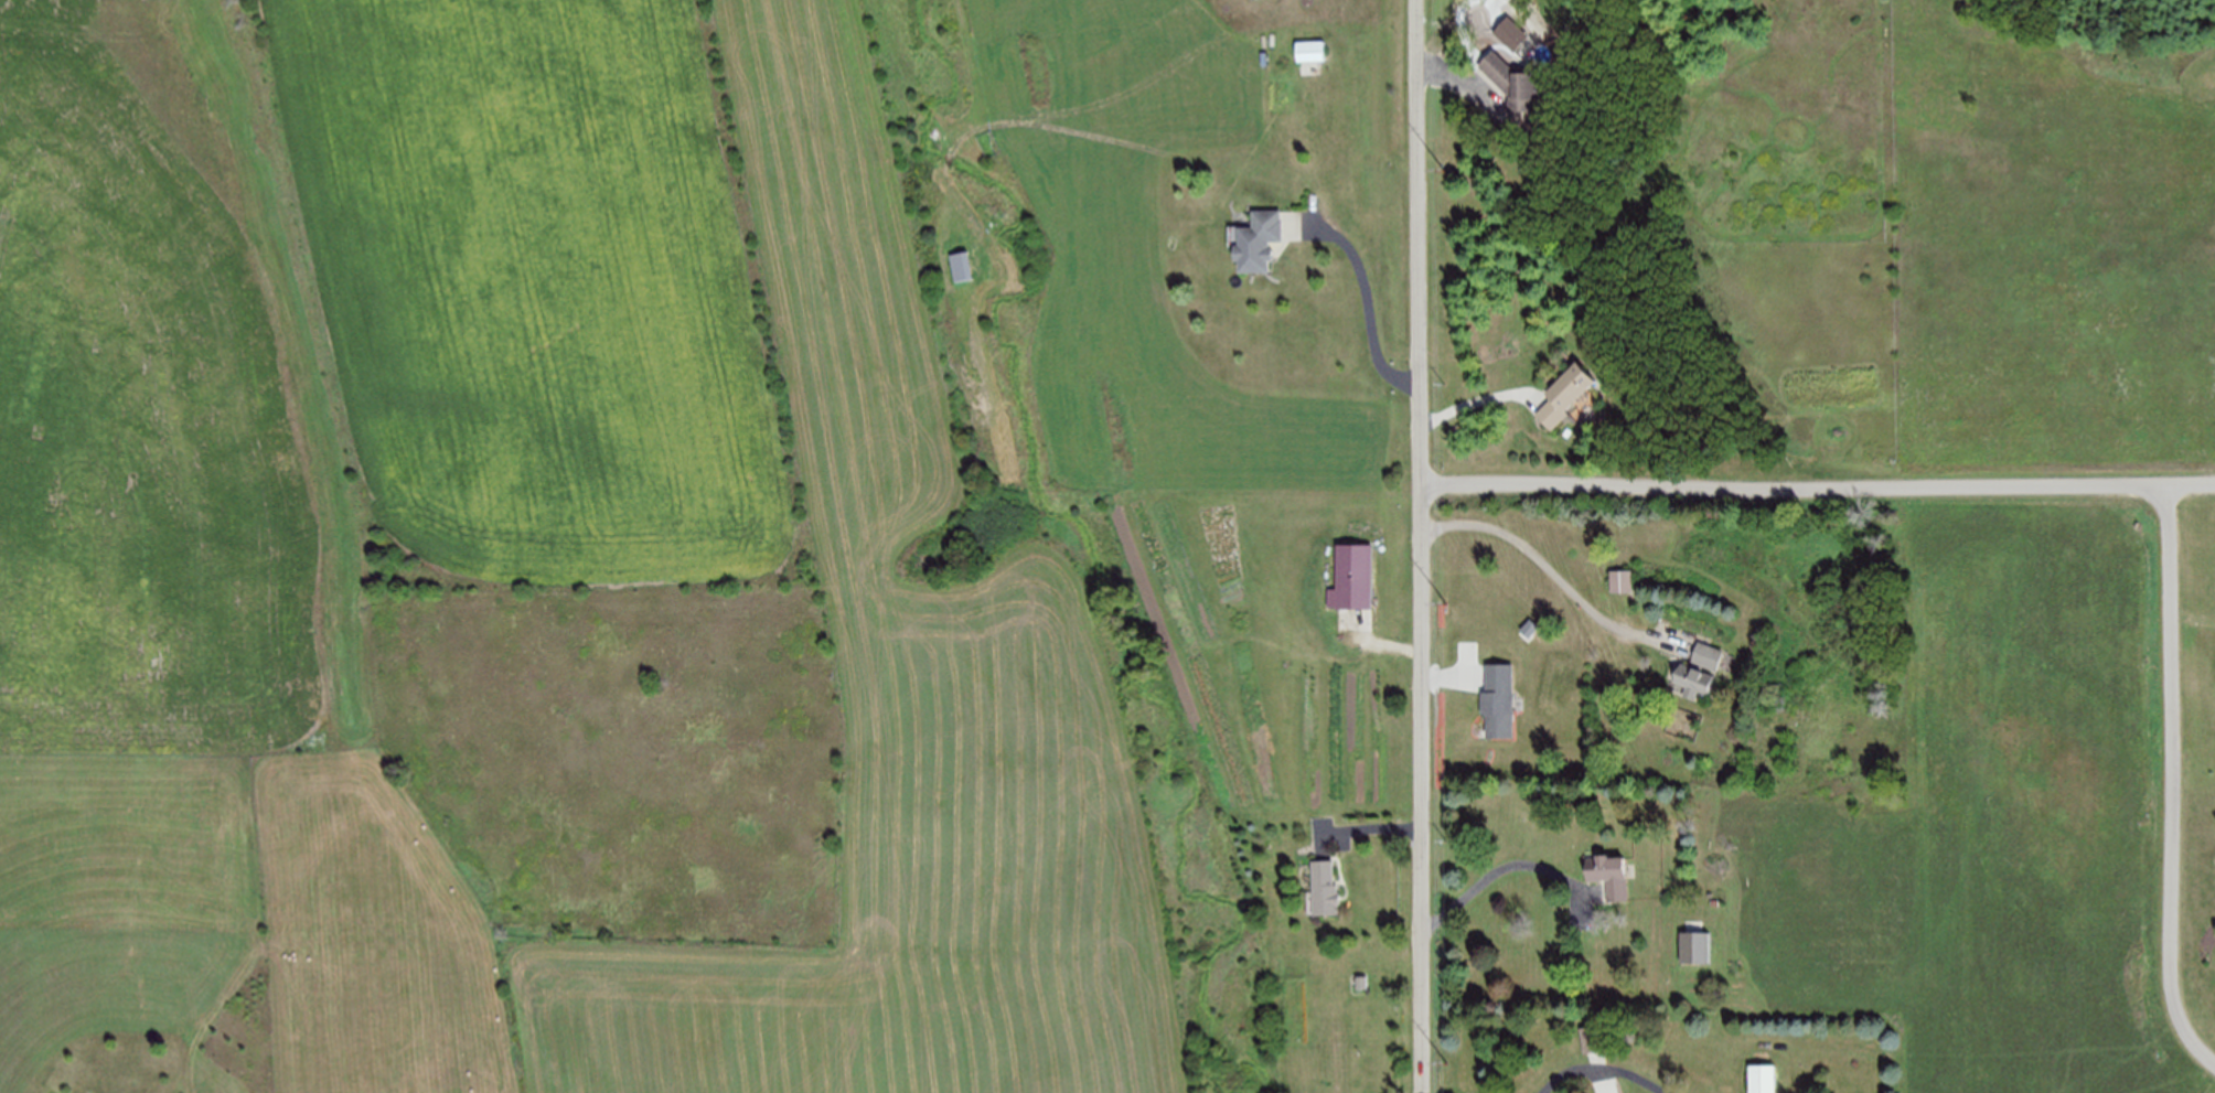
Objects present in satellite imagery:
building: (1309, 51)
road: (1465, 78)
building: (1515, 81)
building: (1256, 242)
road: (1368, 294)
building: (1564, 394)
road: (1479, 399)
road: (1818, 483)
road: (1424, 546)
road: (1556, 574)
building: (1351, 576)
building: (1622, 580)
road: (2194, 620)
road: (1380, 644)
building: (1706, 656)
road: (1452, 678)
building: (1693, 682)
building: (1498, 699)
road: (2174, 780)
road: (1366, 828)
road: (1498, 869)
building: (1613, 876)
building: (1324, 888)
building: (1594, 1037)
road: (1603, 1068)
building: (1761, 1079)
road: (1601, 1080)
building: (1607, 1085)

